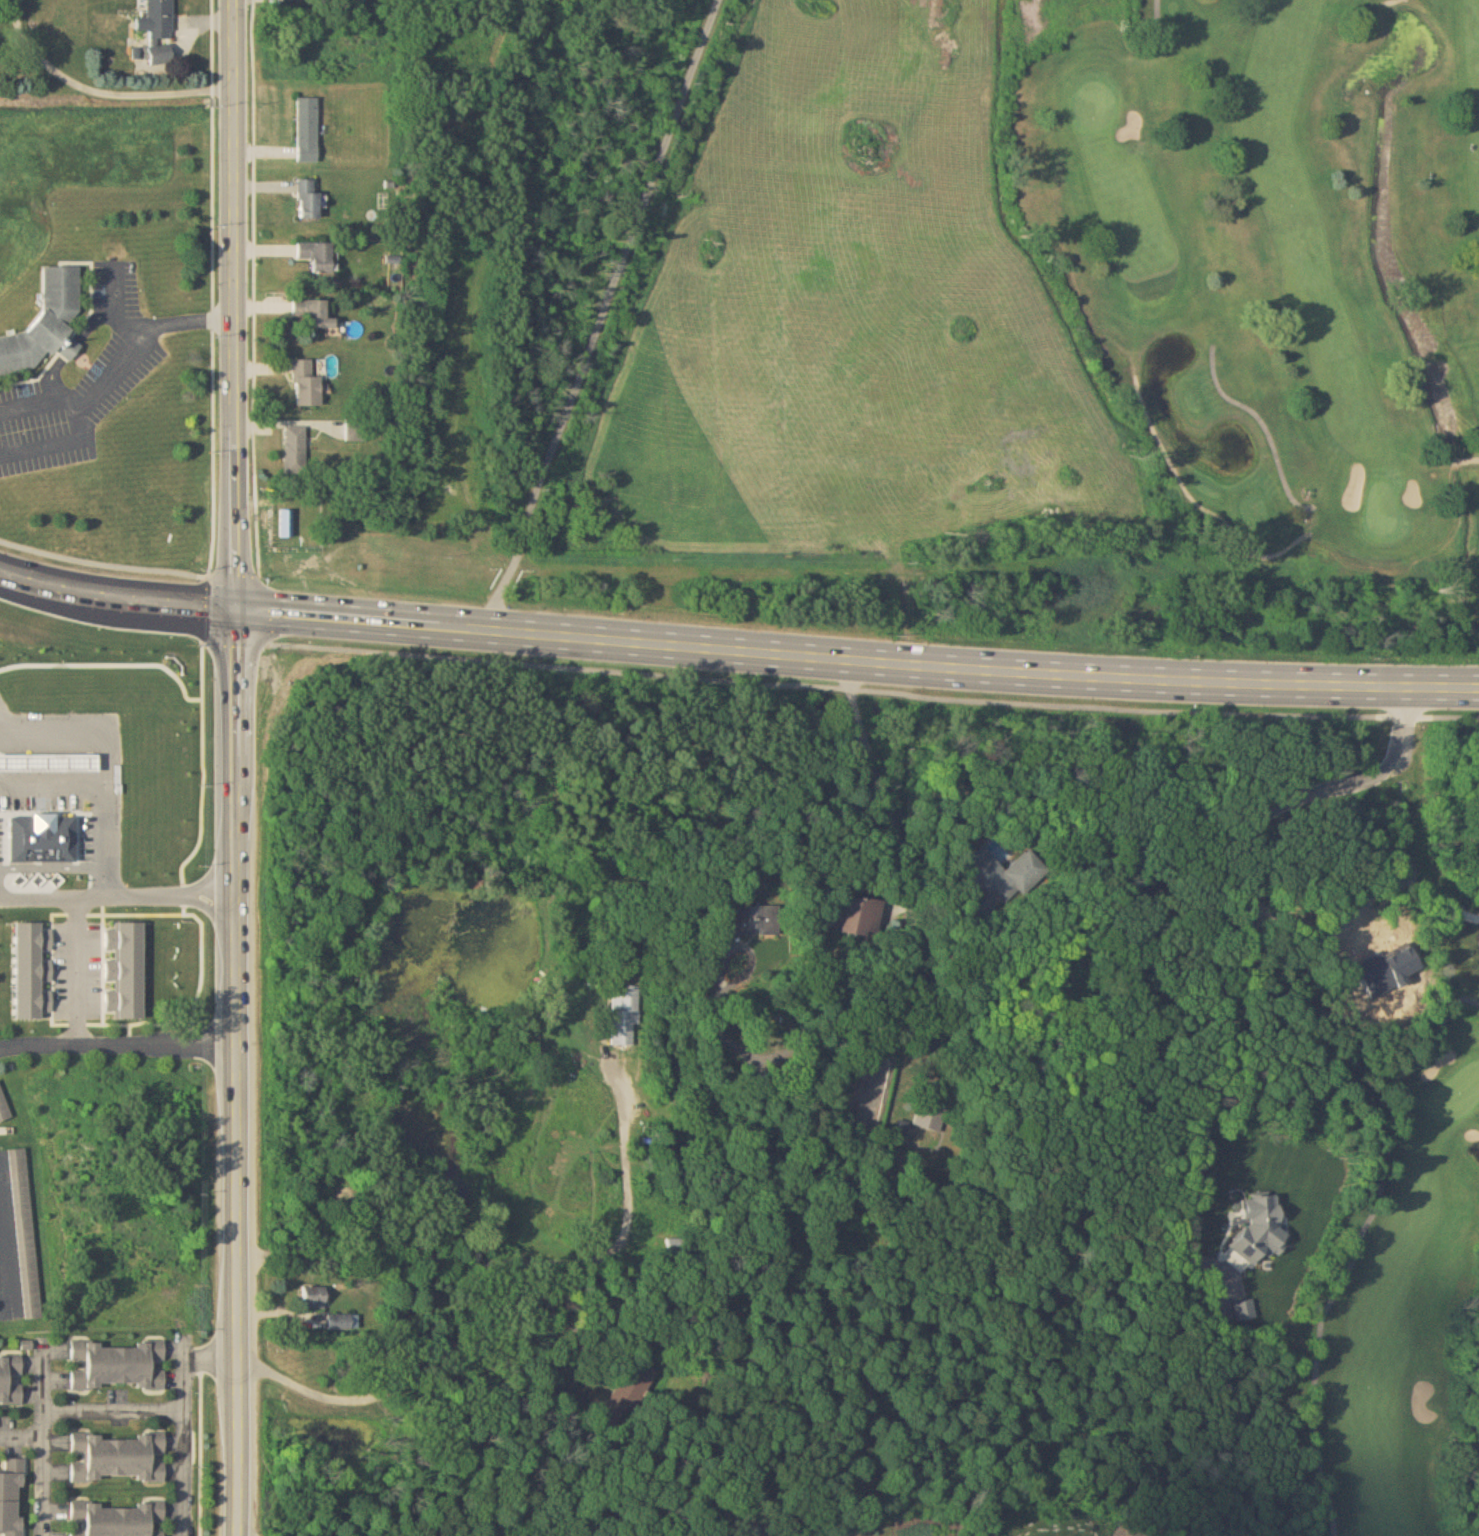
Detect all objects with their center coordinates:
building: (159, 30)
road: (214, 41)
road: (100, 91)
park: (1096, 104)
building: (307, 129)
building: (308, 198)
building: (316, 253)
road: (117, 303)
building: (314, 313)
road: (595, 314)
building: (47, 317)
road: (95, 317)
road: (188, 317)
road: (216, 327)
road: (51, 373)
parking lot: (84, 374)
building: (306, 384)
road: (83, 399)
road: (58, 439)
building: (295, 450)
park: (1384, 507)
building: (287, 524)
park: (1158, 605)
road: (737, 649)
road: (707, 679)
building: (50, 758)
road: (111, 767)
road: (233, 768)
road: (56, 795)
building: (46, 834)
building: (1000, 875)
road: (212, 892)
road: (96, 902)
road: (1248, 904)
road: (1364, 906)
road: (211, 915)
building: (857, 917)
building: (749, 924)
road: (81, 971)
building: (626, 1016)
road: (918, 1031)
road: (116, 1037)
road: (788, 1048)
building: (762, 1087)
park: (1453, 1095)
building: (4, 1107)
building: (932, 1115)
road: (1376, 1205)
building: (677, 1246)
building: (22, 1247)
road: (518, 1260)
road: (7, 1266)
building: (315, 1297)
building: (338, 1322)
road: (209, 1356)
road: (430, 1363)
building: (117, 1366)
building: (10, 1379)
building: (628, 1390)
road: (114, 1411)
road: (184, 1436)
road: (21, 1437)
road: (42, 1439)
building: (118, 1457)
building: (11, 1497)
building: (118, 1520)

